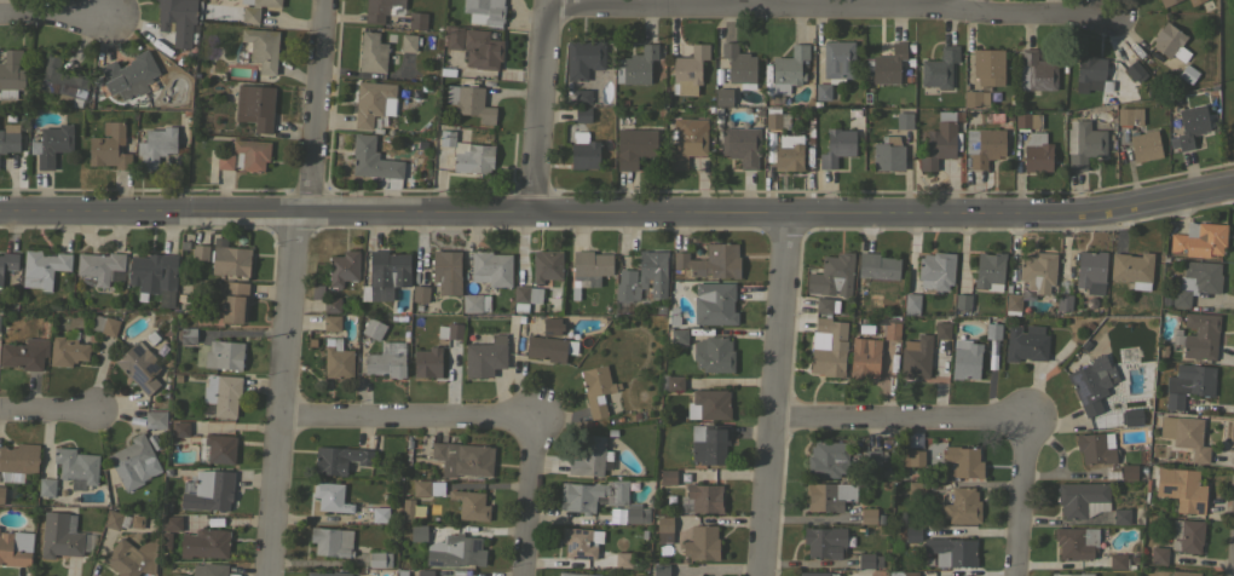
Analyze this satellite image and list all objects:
road: (759, 1)
building: (1193, 1)
building: (1166, 2)
road: (831, 4)
road: (963, 4)
building: (255, 10)
building: (377, 10)
building: (484, 11)
road: (56, 12)
building: (172, 16)
building: (416, 19)
building: (451, 36)
building: (189, 41)
building: (409, 42)
building: (1170, 42)
building: (261, 47)
building: (482, 48)
building: (910, 48)
building: (371, 52)
building: (583, 57)
building: (837, 61)
building: (910, 62)
building: (738, 63)
building: (888, 64)
building: (635, 65)
building: (867, 65)
building: (987, 65)
building: (788, 68)
building: (939, 68)
building: (688, 70)
building: (1135, 70)
building: (446, 71)
building: (1036, 71)
building: (11, 74)
building: (1090, 74)
building: (1187, 74)
building: (129, 75)
building: (717, 76)
building: (907, 80)
building: (60, 81)
building: (821, 92)
building: (722, 96)
building: (582, 97)
building: (866, 98)
building: (975, 98)
building: (373, 102)
building: (469, 102)
building: (623, 103)
building: (255, 105)
road: (538, 105)
building: (583, 114)
building: (857, 114)
building: (1129, 116)
building: (775, 119)
building: (904, 120)
building: (1027, 120)
building: (1190, 125)
building: (1229, 128)
building: (8, 138)
building: (687, 140)
building: (940, 140)
building: (1083, 143)
building: (51, 144)
building: (156, 145)
building: (740, 145)
building: (984, 145)
building: (1144, 145)
building: (109, 146)
building: (634, 146)
building: (836, 146)
building: (583, 150)
building: (788, 152)
building: (1036, 152)
building: (250, 154)
building: (468, 154)
building: (888, 154)
building: (373, 159)
building: (225, 160)
road: (884, 192)
road: (618, 212)
building: (1199, 240)
building: (200, 250)
building: (229, 258)
building: (7, 261)
building: (711, 261)
building: (546, 265)
building: (98, 266)
building: (877, 266)
building: (42, 267)
building: (342, 267)
building: (491, 267)
building: (588, 269)
building: (1132, 269)
building: (935, 270)
building: (446, 271)
building: (990, 271)
building: (1038, 271)
building: (1090, 271)
building: (154, 275)
building: (385, 275)
building: (832, 275)
building: (642, 277)
building: (1194, 282)
road: (293, 287)
building: (420, 293)
building: (525, 296)
building: (231, 300)
building: (962, 301)
building: (1013, 301)
building: (1063, 301)
building: (474, 303)
building: (714, 303)
building: (911, 304)
building: (331, 305)
building: (823, 305)
building: (331, 323)
building: (104, 324)
building: (550, 326)
building: (373, 328)
building: (941, 329)
building: (450, 330)
building: (892, 330)
building: (992, 330)
building: (188, 335)
building: (677, 335)
building: (1200, 335)
building: (1026, 342)
building: (550, 347)
building: (828, 347)
rooftop solar panel: (135, 349)
building: (67, 351)
building: (24, 353)
building: (713, 353)
building: (224, 355)
building: (485, 356)
building: (916, 357)
building: (864, 358)
building: (965, 358)
building: (338, 359)
building: (427, 362)
building: (385, 364)
building: (139, 367)
rooftop solar panel: (151, 367)
rooftop solar panel: (137, 375)
building: (674, 382)
building: (1091, 384)
building: (1188, 384)
building: (596, 388)
building: (221, 393)
road: (778, 393)
building: (708, 404)
road: (52, 410)
road: (409, 414)
building: (1131, 416)
building: (155, 419)
road: (905, 419)
building: (180, 428)
building: (1186, 436)
building: (708, 443)
building: (217, 448)
building: (1095, 448)
building: (590, 456)
building: (875, 457)
building: (911, 457)
building: (339, 459)
building: (462, 459)
building: (828, 459)
building: (18, 461)
building: (132, 461)
building: (962, 462)
building: (76, 466)
building: (1128, 471)
building: (665, 477)
building: (46, 486)
building: (427, 488)
building: (1181, 488)
building: (916, 489)
building: (208, 490)
road: (1026, 491)
building: (1, 494)
building: (594, 495)
building: (829, 495)
road: (530, 496)
building: (330, 497)
building: (702, 499)
building: (1082, 499)
building: (469, 505)
rooftop solar panel: (684, 505)
building: (962, 506)
building: (406, 509)
building: (635, 513)
building: (380, 514)
building: (869, 515)
building: (1120, 515)
building: (116, 519)
building: (172, 523)
building: (663, 529)
building: (417, 532)
building: (912, 534)
building: (59, 535)
building: (1186, 535)
building: (331, 541)
building: (204, 542)
building: (578, 542)
building: (824, 542)
building: (1076, 542)
building: (702, 543)
building: (15, 548)
building: (455, 551)
building: (951, 552)
building: (1158, 554)
building: (131, 558)
building: (379, 559)
building: (623, 559)
building: (869, 560)
building: (1119, 561)
building: (209, 569)
building: (661, 570)
building: (425, 572)
building: (1183, 572)
building: (328, 574)
building: (575, 574)
building: (817, 574)
building: (903, 574)
building: (1072, 574)
building: (179, 575)

